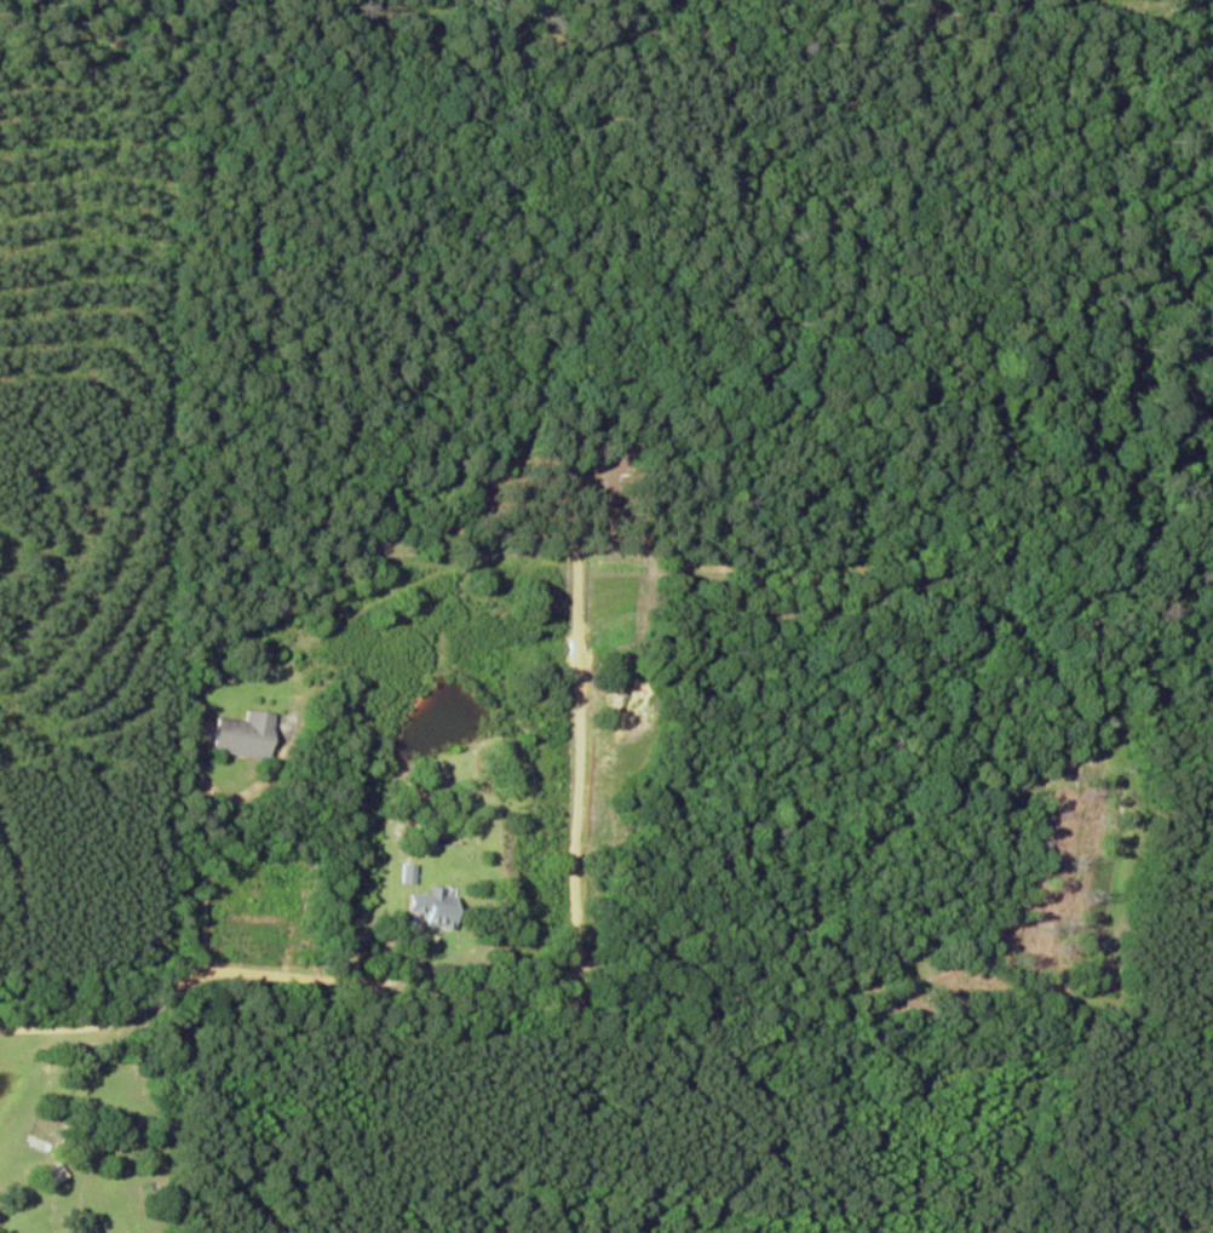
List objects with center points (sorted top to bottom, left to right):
building: (248, 735)
building: (410, 873)
building: (438, 906)
building: (54, 1175)
building: (86, 1232)

